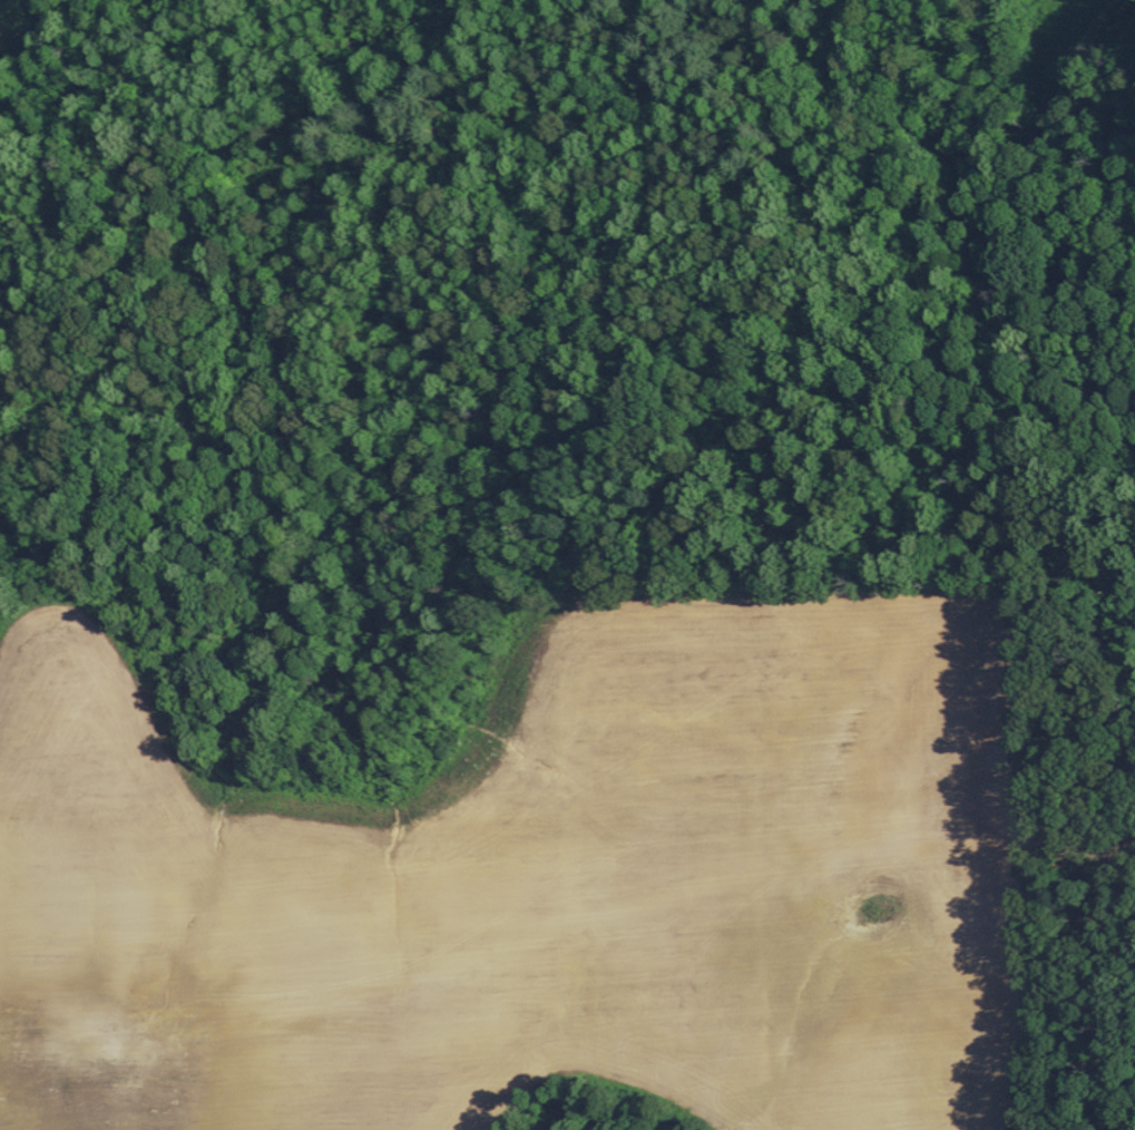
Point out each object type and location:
road: (812, 8)

